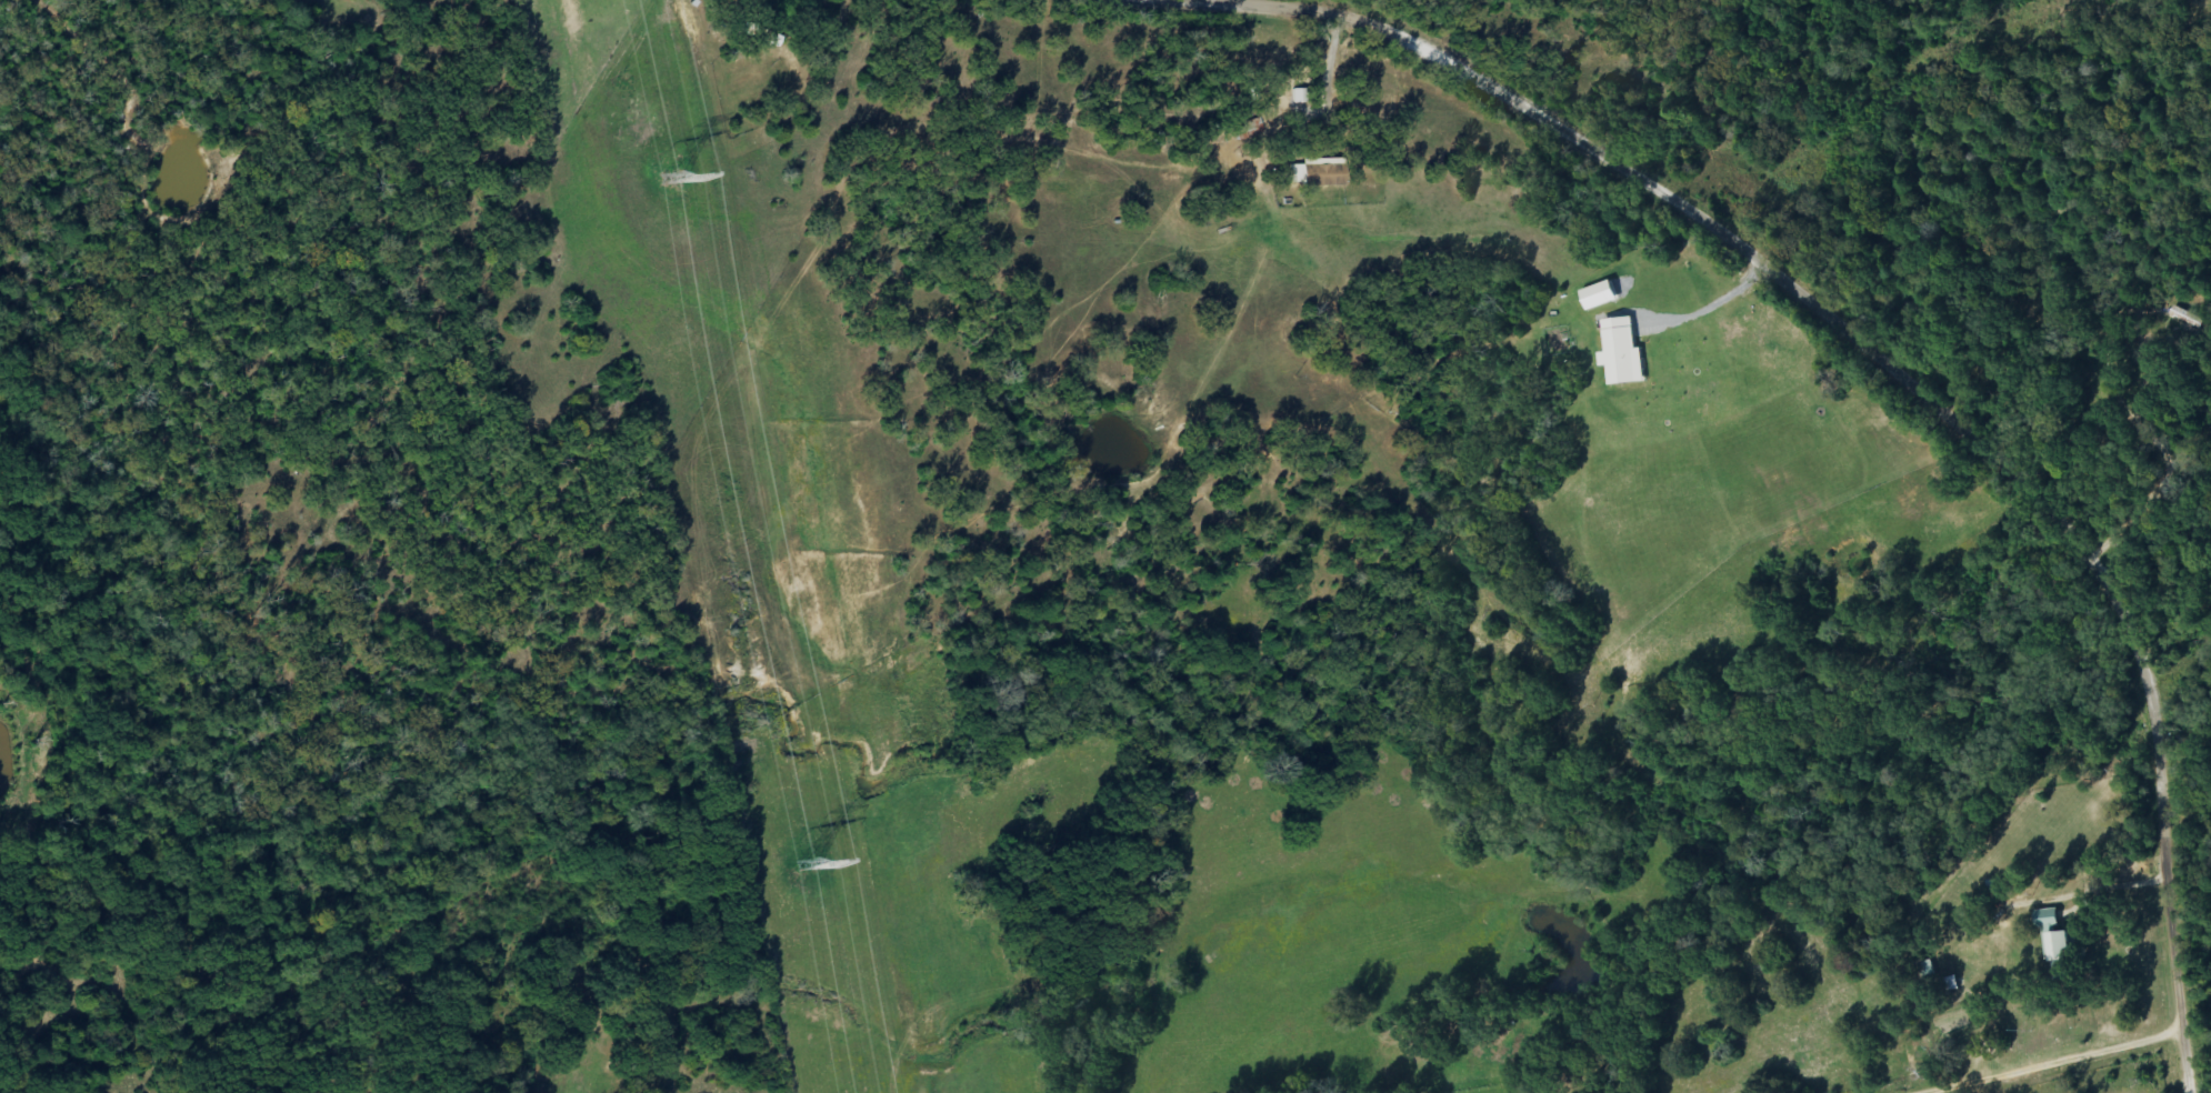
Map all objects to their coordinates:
road: (1579, 161)
building: (1317, 173)
power tower: (678, 179)
building: (1600, 297)
road: (2108, 312)
building: (1622, 353)
road: (2152, 614)
road: (2152, 791)
power tower: (811, 864)
building: (2055, 939)

